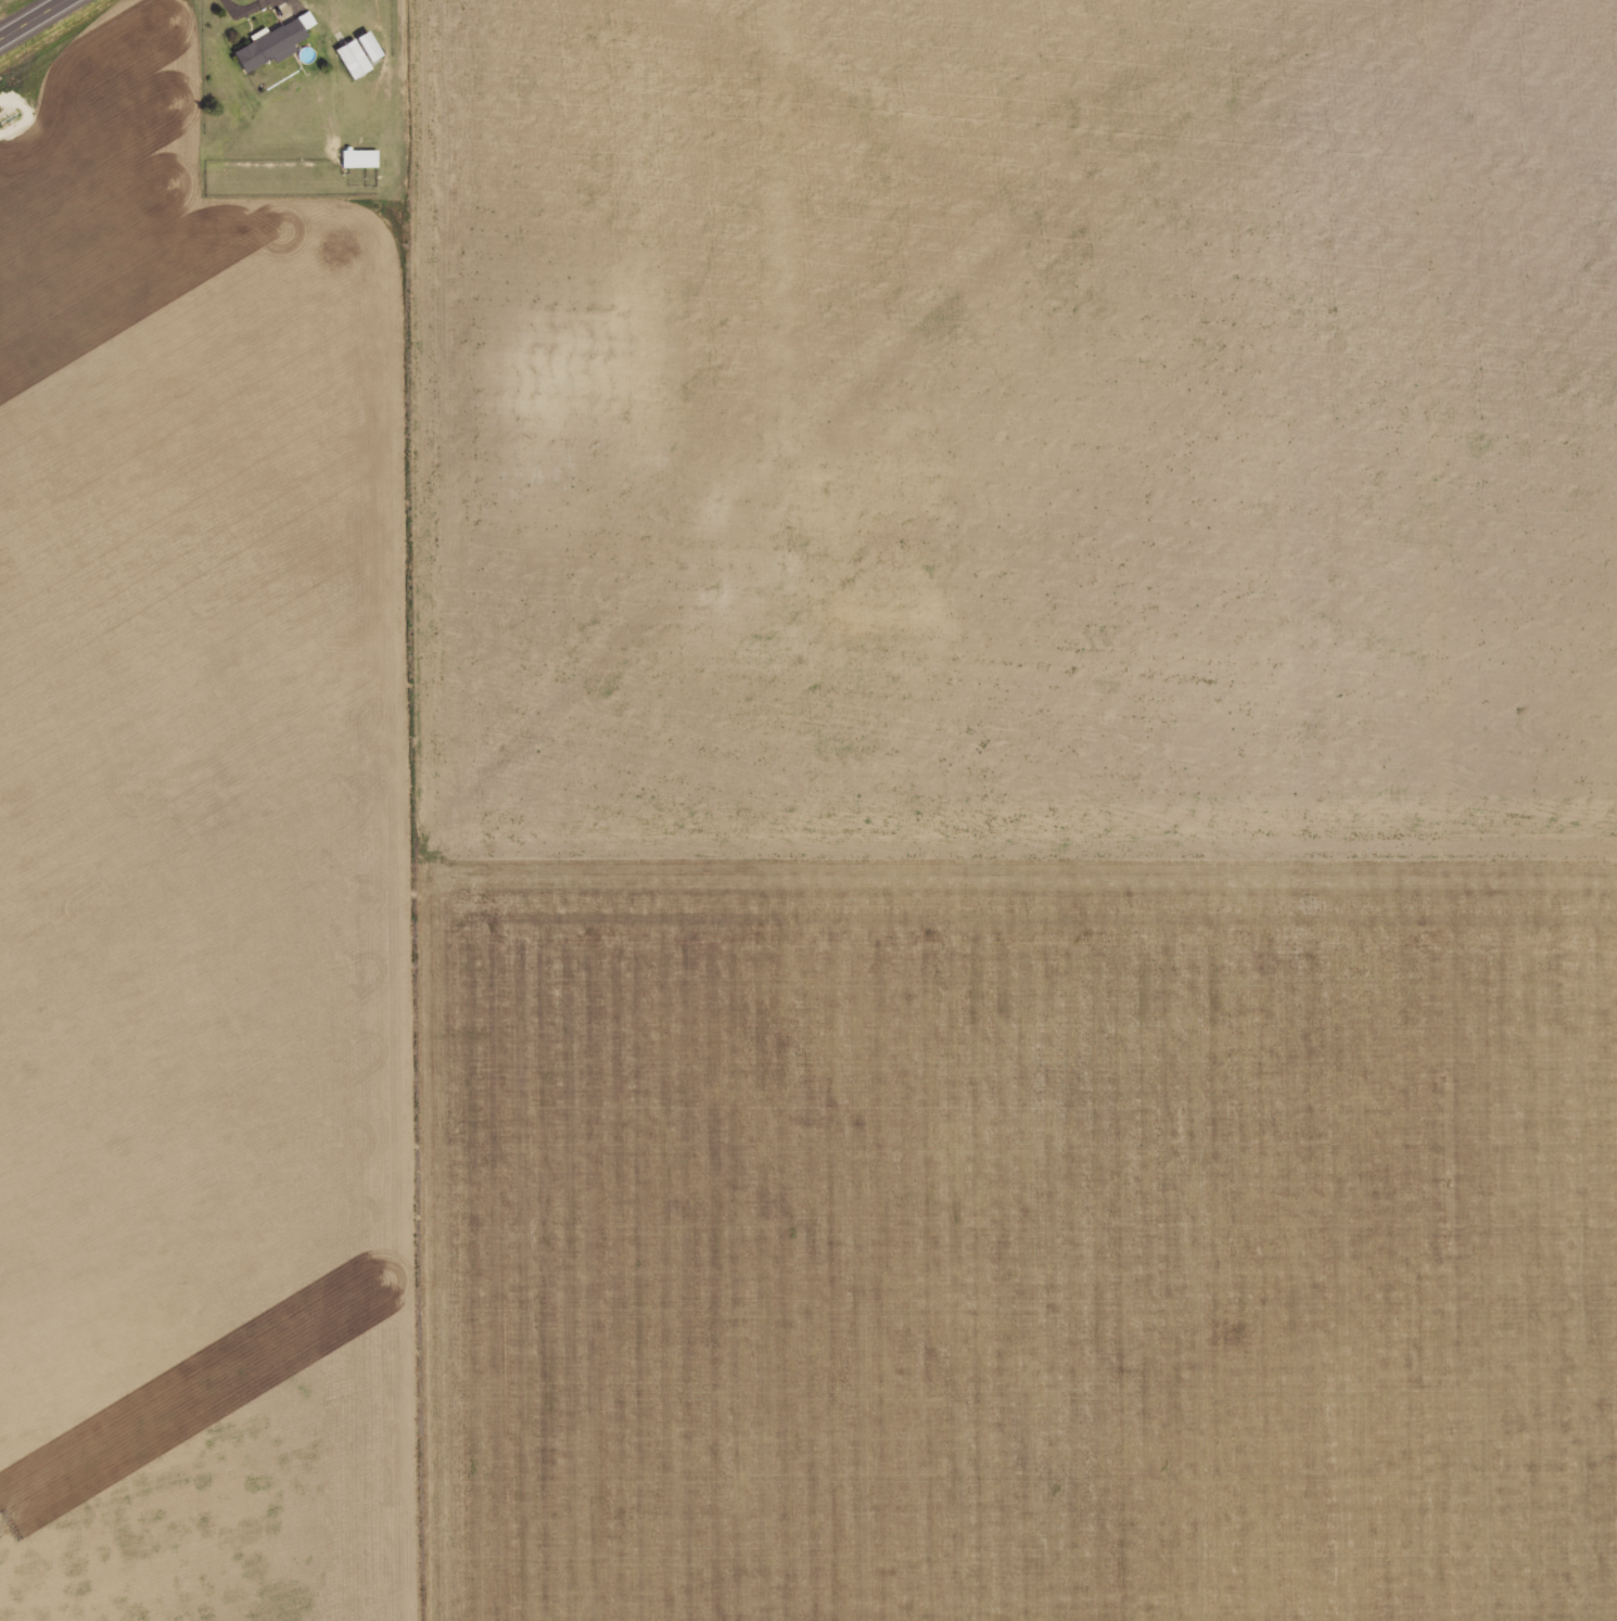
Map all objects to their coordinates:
road: (36, 22)
road: (426, 196)

